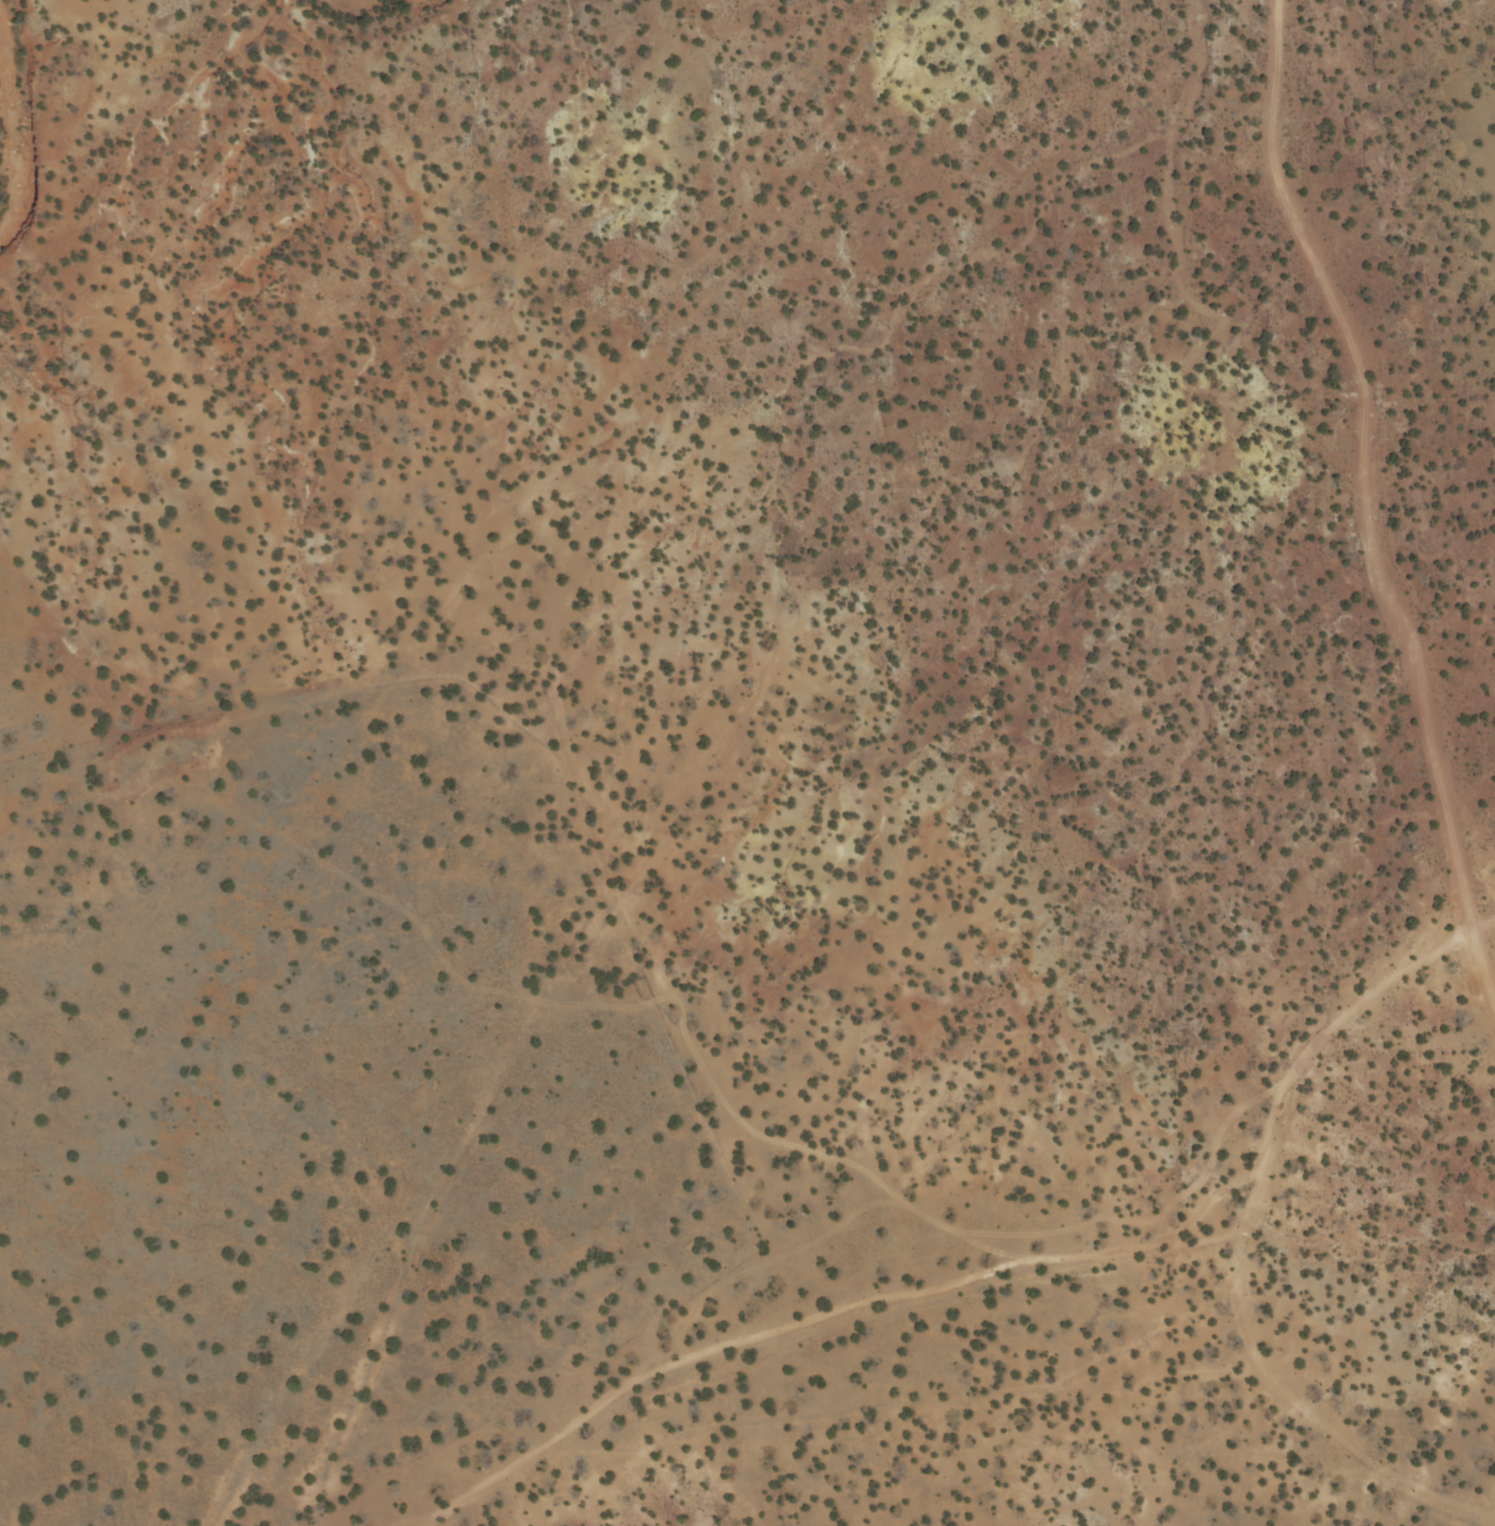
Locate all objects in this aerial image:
road: (1358, 475)
road: (1256, 1197)
road: (809, 1281)

